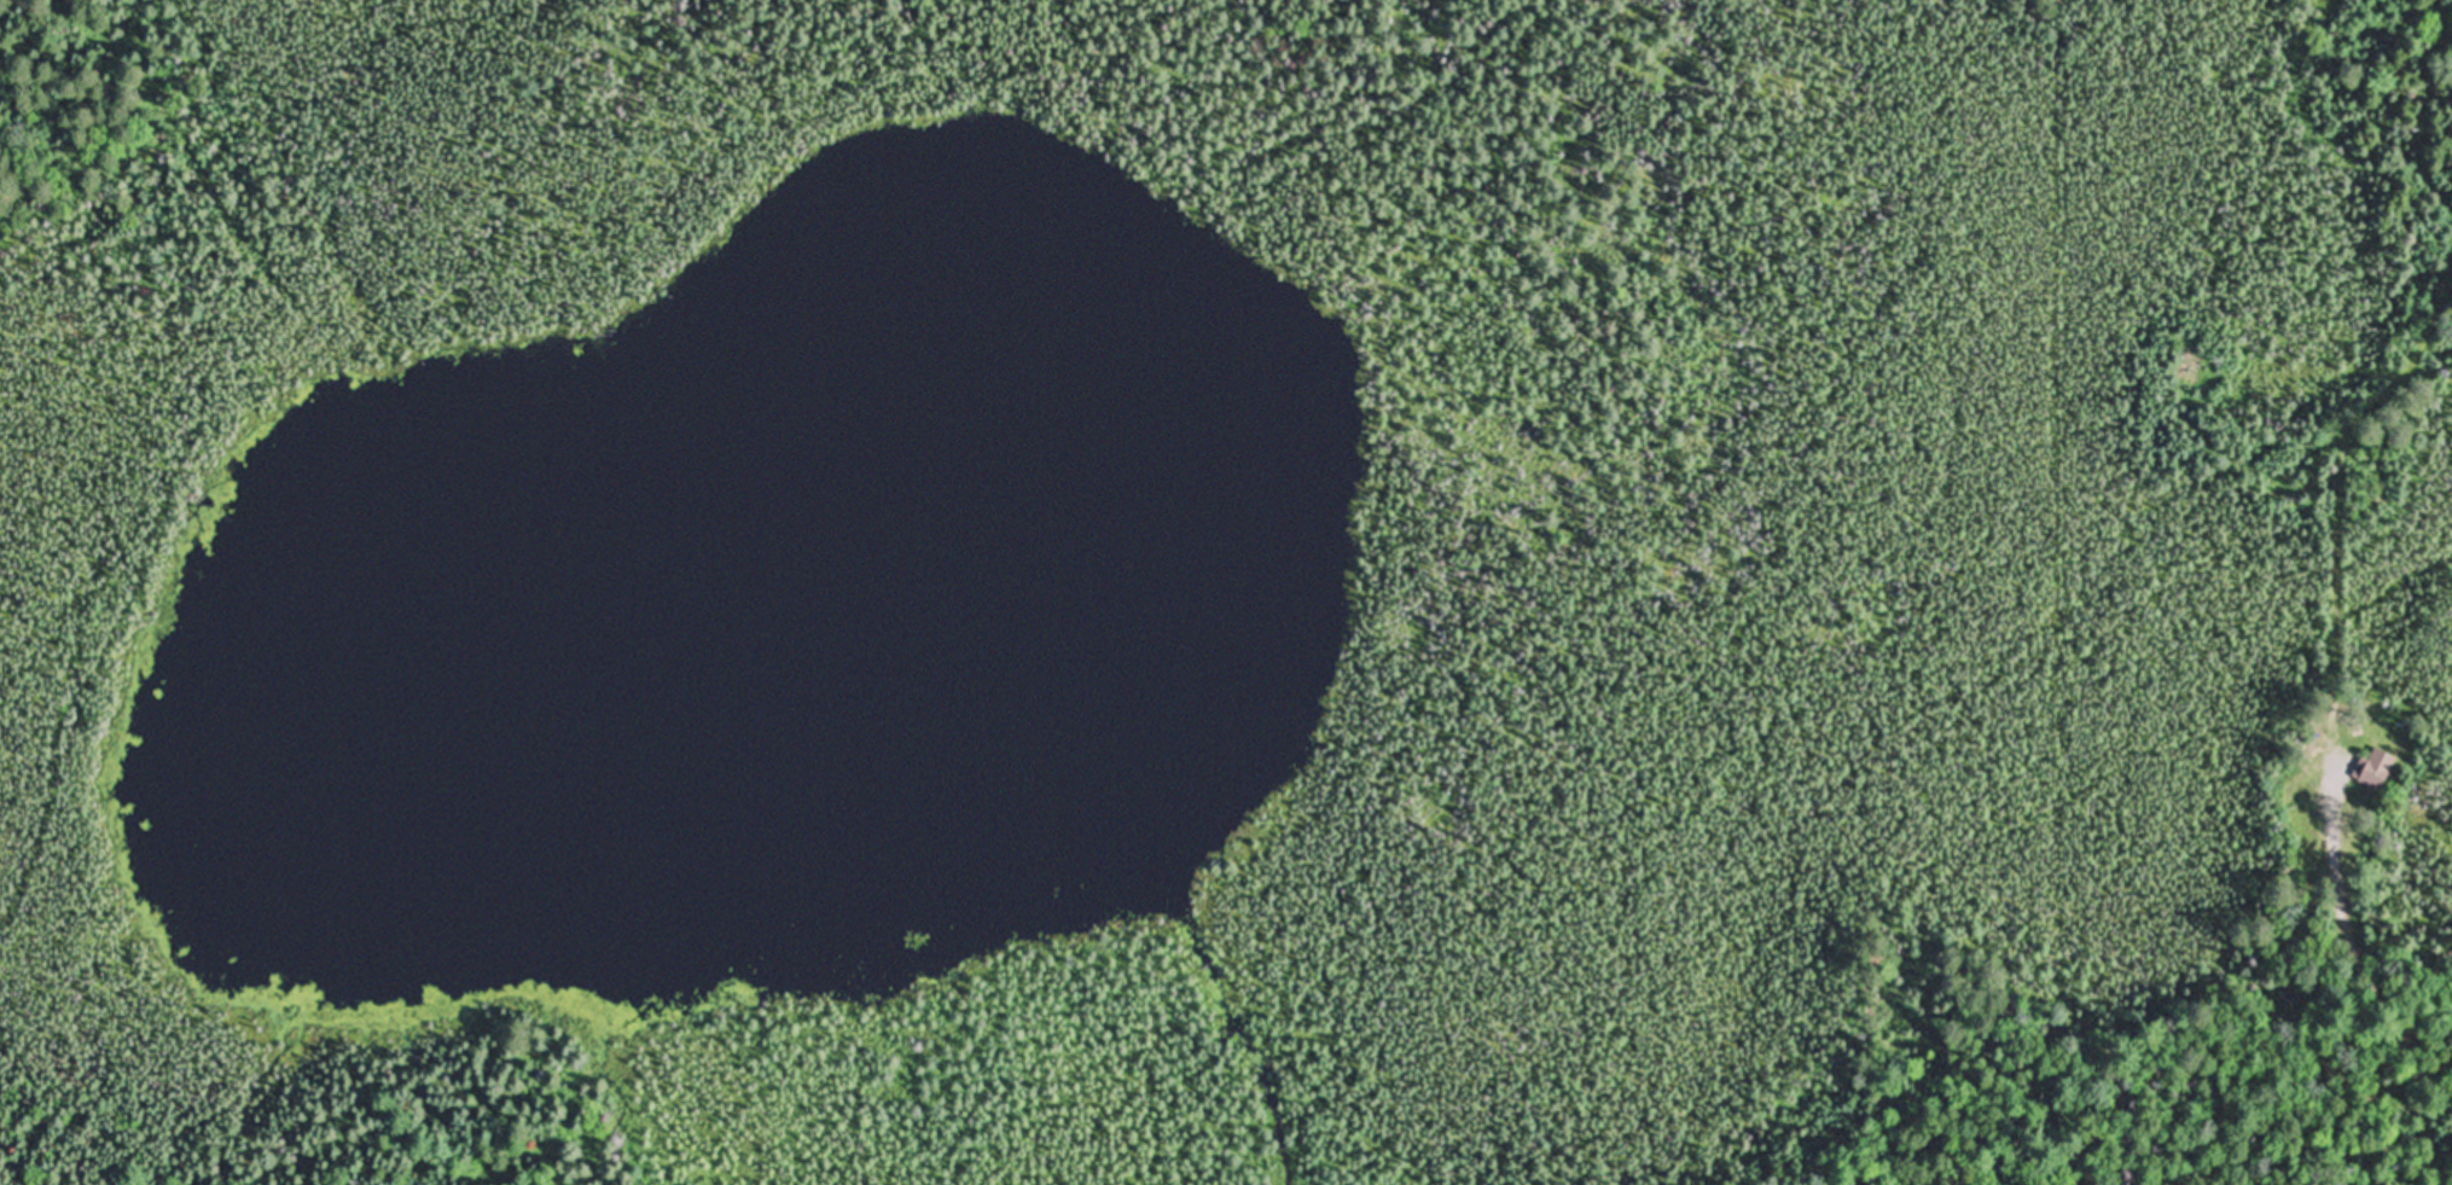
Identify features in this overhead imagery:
building: (2370, 773)

